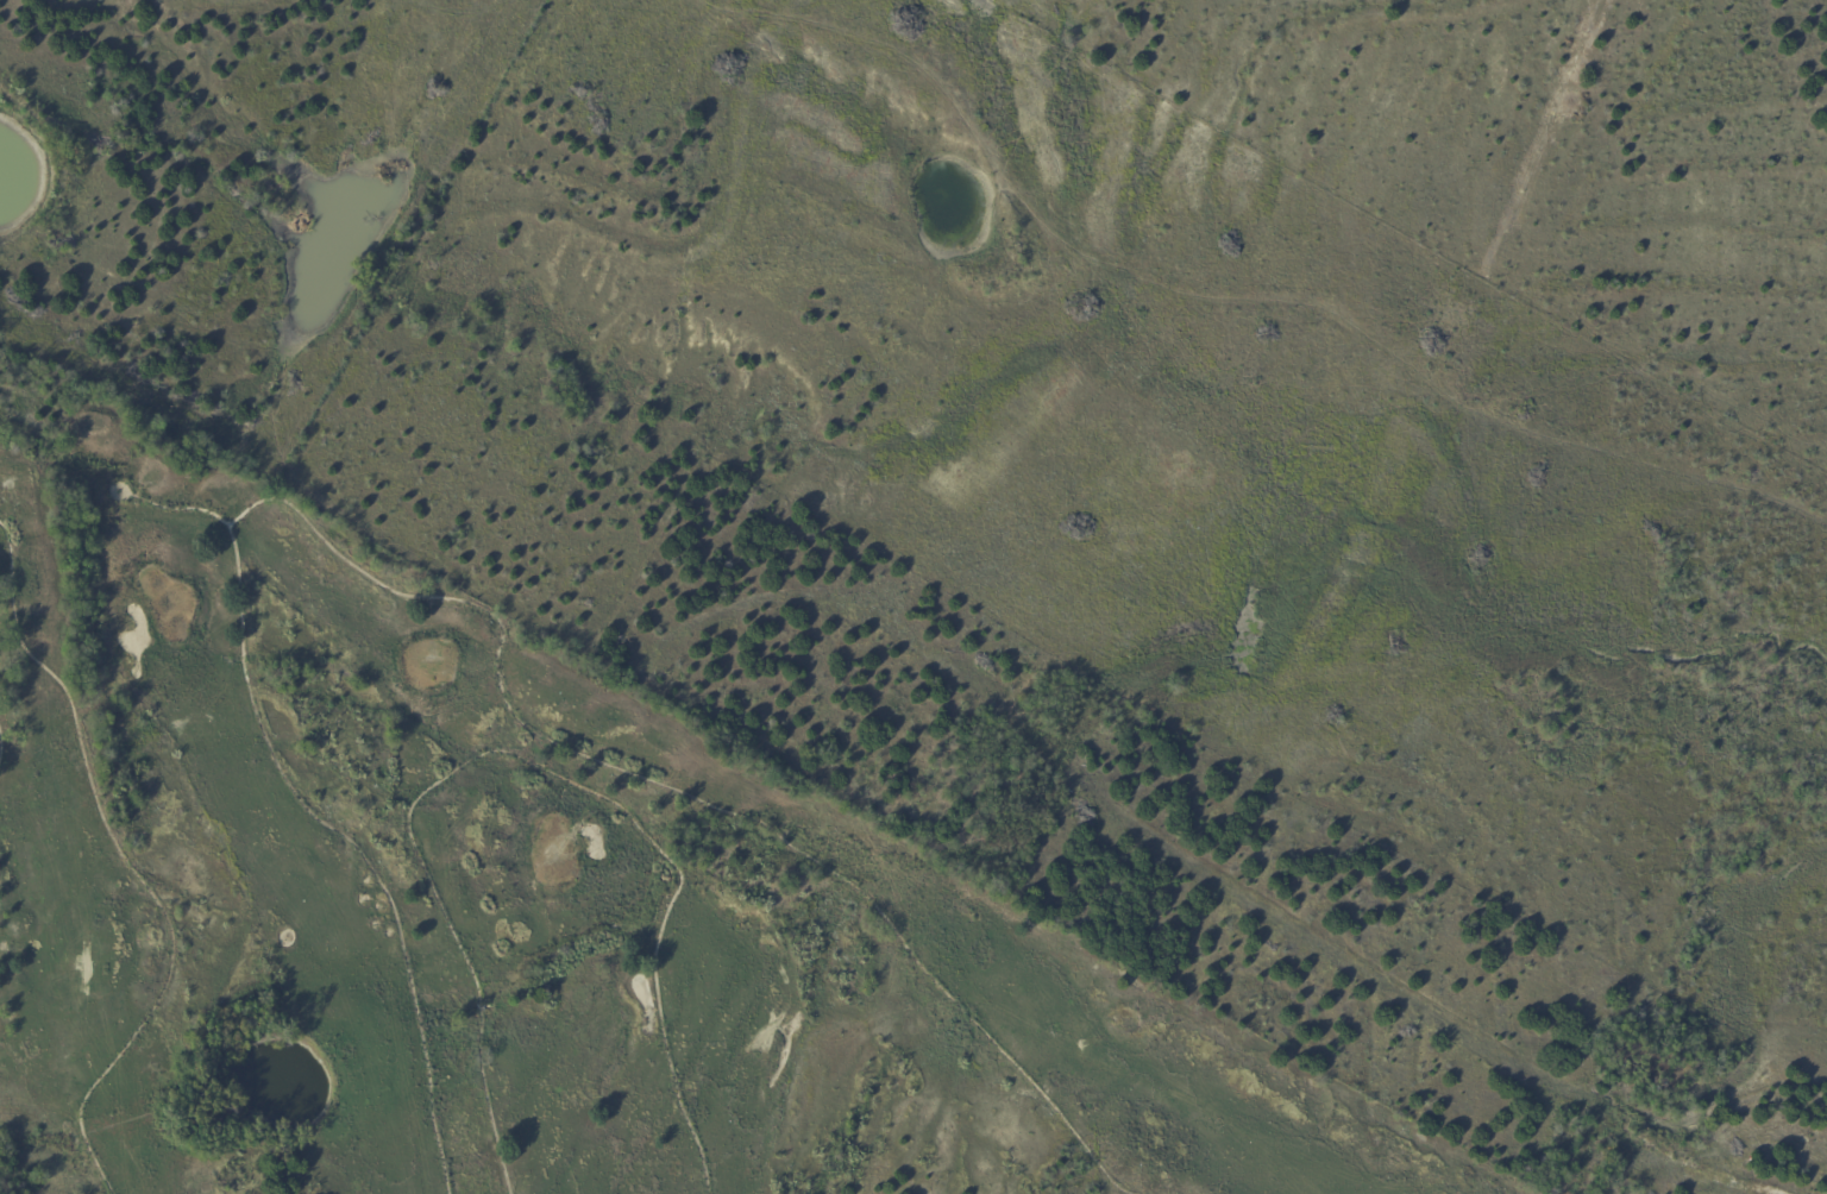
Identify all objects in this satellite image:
road: (107, 489)
road: (519, 758)
road: (683, 793)
road: (313, 816)
road: (127, 866)
park: (513, 905)

